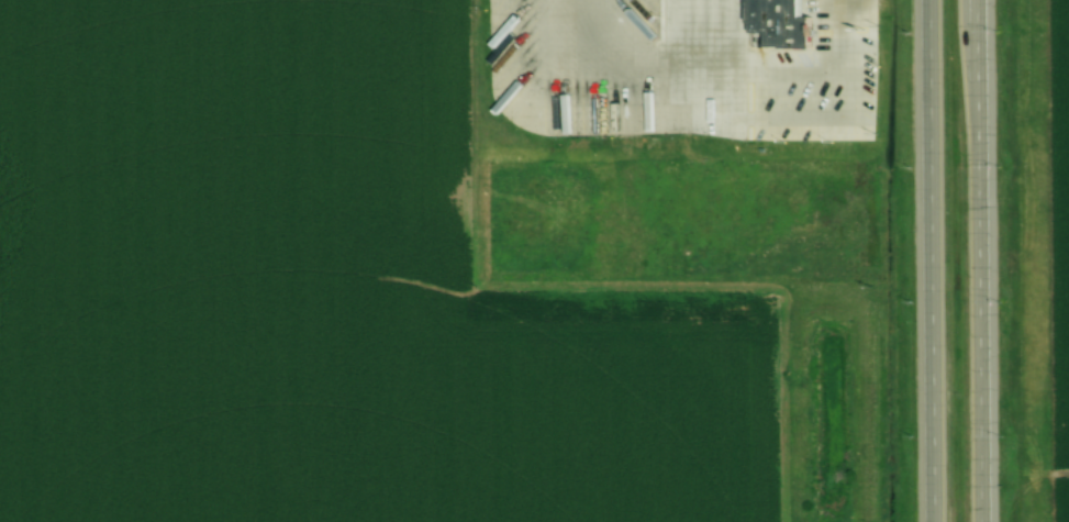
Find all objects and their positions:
building: (783, 22)
road: (801, 64)
road: (637, 92)
road: (928, 148)
road: (976, 148)
road: (928, 409)
road: (976, 409)

